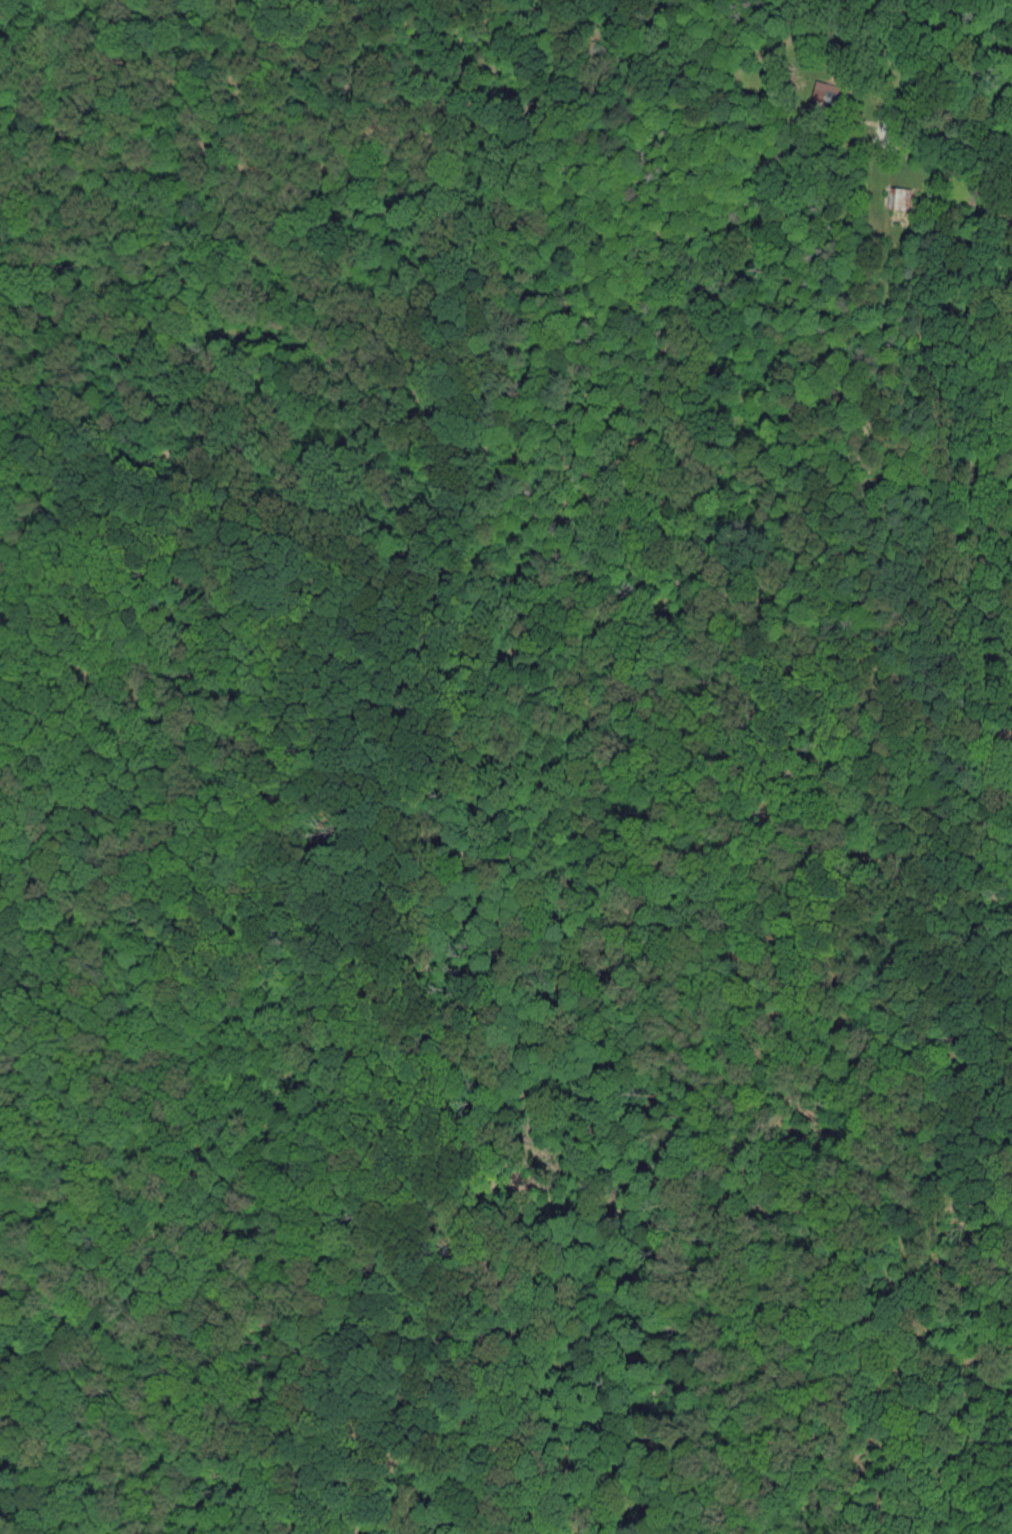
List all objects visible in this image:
road: (189, 78)
road: (952, 89)
road: (779, 115)
road: (951, 157)

